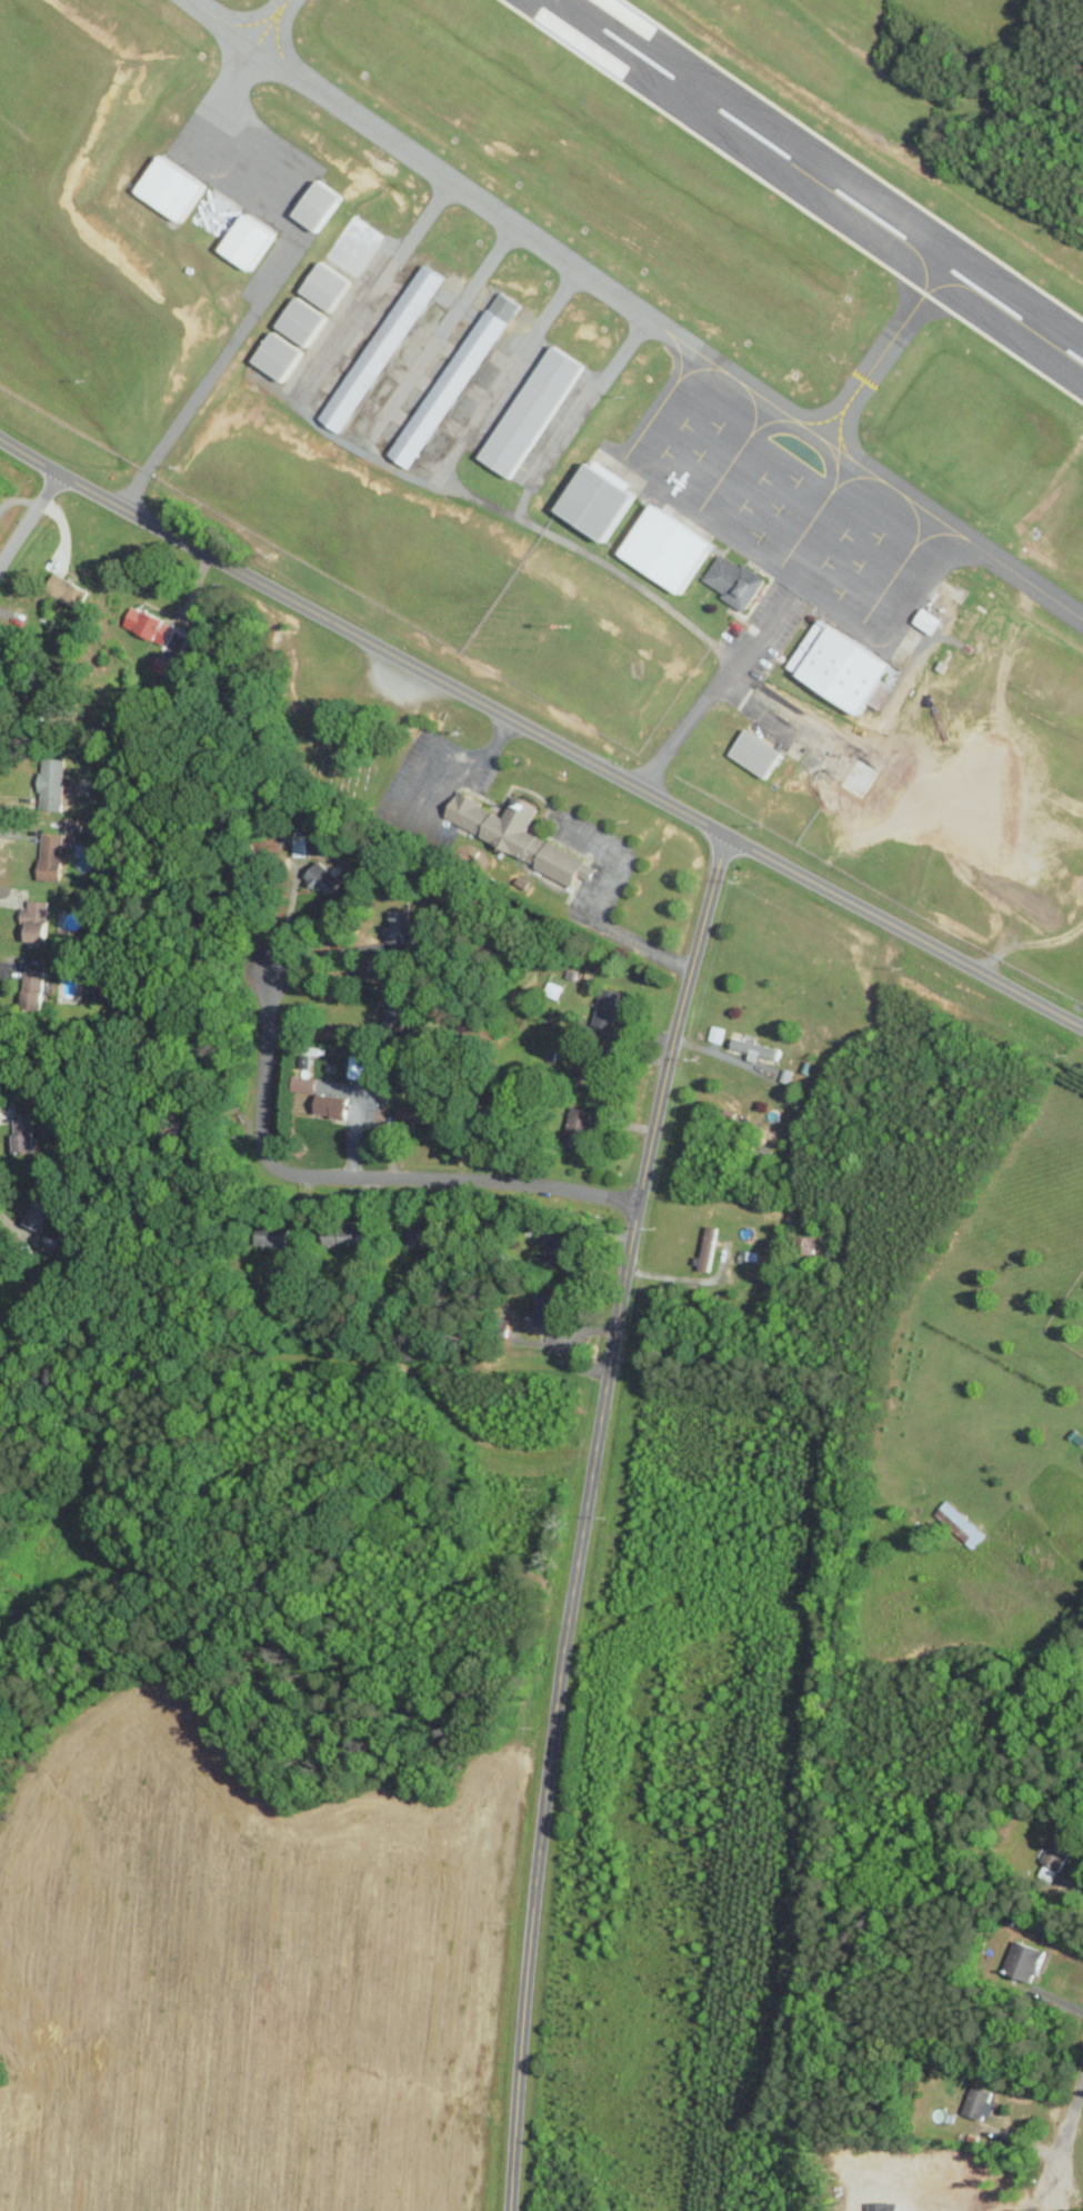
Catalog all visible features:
airport taxiway: (244, 58)
airport taxiway: (291, 69)
airport taxiway: (439, 171)
airport runway: (823, 179)
building: (170, 185)
building: (315, 203)
building: (213, 212)
building: (245, 240)
building: (352, 245)
building: (324, 285)
road: (249, 308)
building: (302, 321)
airport taxiway: (884, 343)
building: (382, 347)
building: (275, 353)
building: (453, 378)
building: (530, 410)
airport apron: (791, 496)
building: (594, 500)
road: (29, 517)
building: (665, 547)
airport taxiway: (1027, 578)
building: (735, 580)
building: (69, 589)
building: (930, 620)
building: (157, 630)
building: (839, 664)
road: (708, 688)
road: (540, 734)
road: (444, 740)
building: (756, 753)
road: (468, 767)
building: (52, 783)
building: (519, 835)
building: (51, 856)
building: (321, 876)
road: (604, 899)
building: (36, 919)
road: (328, 953)
building: (33, 978)
road: (322, 1027)
building: (716, 1033)
building: (755, 1048)
building: (305, 1054)
building: (367, 1067)
building: (585, 1075)
building: (305, 1084)
building: (332, 1104)
building: (413, 1114)
building: (578, 1127)
building: (24, 1132)
road: (353, 1174)
building: (41, 1213)
road: (14, 1225)
building: (275, 1236)
building: (343, 1236)
building: (424, 1238)
building: (708, 1247)
building: (561, 1248)
road: (681, 1278)
building: (545, 1308)
road: (584, 1517)
building: (961, 1522)
building: (1059, 1849)
building: (1024, 1959)
building: (980, 2102)
road: (1067, 2123)

